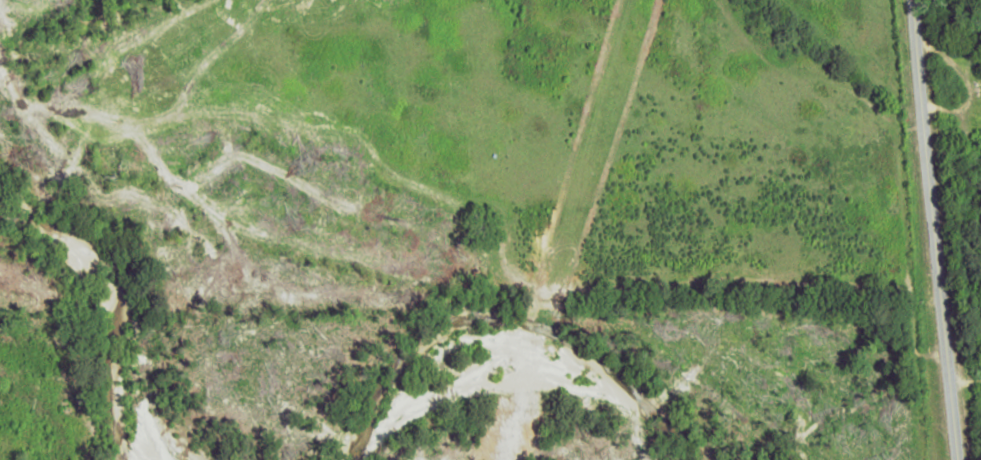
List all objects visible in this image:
road: (920, 230)

